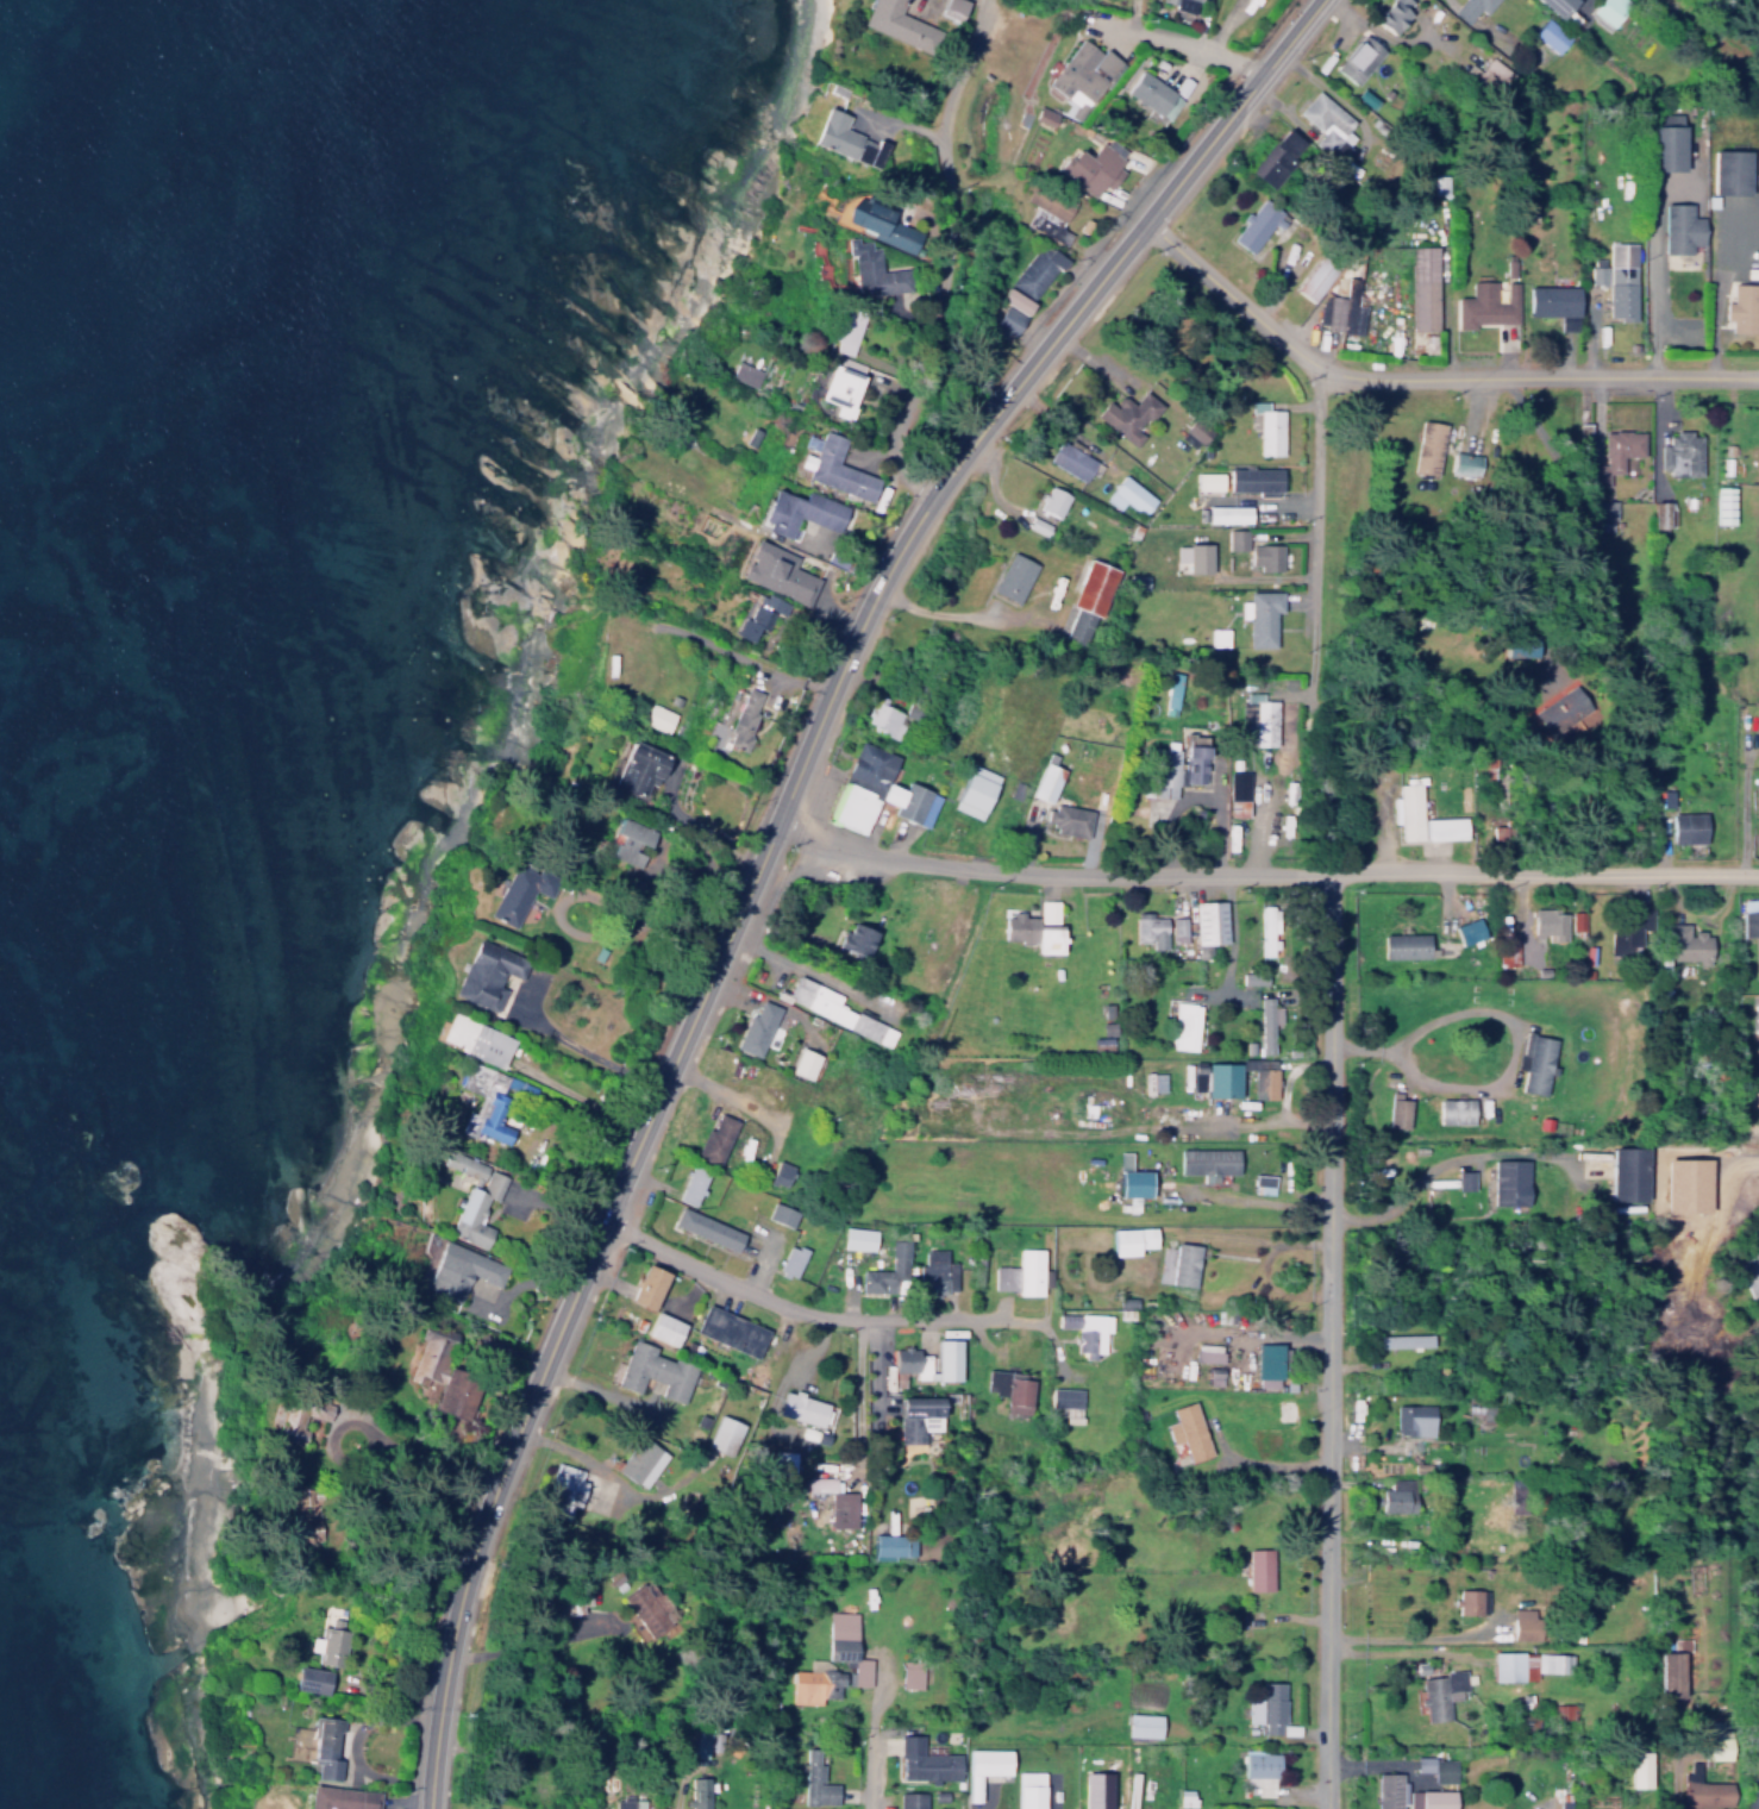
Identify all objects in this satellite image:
building: (1179, 4)
building: (1557, 4)
building: (1469, 5)
building: (952, 7)
building: (1391, 11)
building: (1608, 12)
building: (899, 25)
building: (1551, 31)
building: (1500, 40)
road: (1182, 43)
building: (1358, 52)
building: (1083, 70)
building: (1496, 70)
building: (1152, 94)
road: (1228, 111)
building: (1044, 115)
building: (1328, 121)
building: (1664, 137)
building: (840, 138)
building: (1275, 155)
building: (1095, 167)
building: (1729, 167)
building: (1257, 223)
building: (1679, 223)
building: (883, 224)
road: (953, 264)
building: (1597, 267)
building: (875, 269)
building: (1035, 271)
building: (1315, 274)
building: (1621, 276)
building: (1423, 283)
road: (1653, 286)
road: (1445, 294)
road: (1232, 296)
building: (1554, 299)
building: (1485, 300)
building: (1016, 301)
building: (1344, 301)
building: (1744, 302)
building: (1008, 320)
building: (1683, 332)
road: (1542, 371)
building: (743, 374)
building: (844, 390)
building: (1126, 414)
building: (1266, 427)
building: (1194, 432)
building: (1432, 442)
building: (1682, 445)
building: (1616, 450)
building: (1465, 458)
building: (1072, 462)
building: (838, 468)
building: (1253, 474)
building: (1208, 481)
building: (1127, 495)
building: (1723, 500)
building: (1605, 505)
building: (1226, 508)
building: (1663, 509)
building: (802, 512)
road: (1565, 518)
building: (1605, 521)
road: (1316, 530)
building: (1235, 534)
building: (1265, 551)
building: (1198, 553)
building: (1013, 571)
building: (778, 574)
building: (1088, 594)
building: (1260, 612)
building: (752, 616)
building: (1217, 632)
building: (1526, 651)
building: (1171, 688)
building: (888, 712)
building: (658, 713)
building: (741, 714)
building: (1262, 714)
building: (1195, 759)
building: (636, 762)
building: (1158, 766)
building: (1045, 777)
building: (1238, 783)
building: (974, 787)
building: (876, 788)
building: (1409, 810)
building: (1068, 814)
building: (1686, 822)
building: (1447, 828)
building: (627, 835)
road: (1264, 869)
building: (518, 891)
building: (1047, 910)
building: (1745, 913)
building: (1208, 915)
building: (1177, 921)
building: (1547, 924)
building: (1148, 925)
building: (1266, 925)
building: (1467, 927)
road: (1228, 929)
building: (1032, 933)
building: (855, 934)
building: (1404, 940)
building: (1676, 940)
building: (1506, 947)
building: (1753, 950)
road: (808, 968)
building: (486, 974)
building: (1251, 978)
road: (706, 981)
road: (1263, 989)
building: (834, 1006)
building: (1267, 1019)
building: (756, 1024)
building: (1182, 1026)
building: (1757, 1031)
building: (474, 1039)
building: (1100, 1043)
building: (803, 1059)
building: (1535, 1063)
road: (1506, 1066)
building: (1262, 1071)
building: (1221, 1075)
building: (1153, 1082)
building: (1454, 1112)
building: (1398, 1113)
building: (484, 1116)
building: (714, 1135)
road: (1447, 1154)
building: (1207, 1156)
building: (780, 1168)
building: (1632, 1175)
building: (690, 1178)
building: (1132, 1178)
building: (1262, 1179)
building: (1464, 1181)
building: (1510, 1183)
building: (472, 1197)
road: (1266, 1197)
building: (780, 1213)
building: (712, 1227)
building: (1123, 1237)
building: (858, 1238)
building: (790, 1254)
building: (1184, 1259)
building: (462, 1269)
building: (885, 1270)
building: (1020, 1272)
building: (646, 1282)
road: (806, 1307)
building: (663, 1323)
building: (727, 1326)
building: (1084, 1331)
road: (1329, 1338)
building: (1407, 1340)
building: (1207, 1352)
building: (946, 1356)
building: (428, 1357)
road: (874, 1360)
building: (1266, 1362)
building: (652, 1366)
building: (903, 1366)
building: (1008, 1383)
road: (857, 1388)
building: (457, 1392)
building: (1064, 1392)
building: (800, 1403)
building: (1284, 1406)
building: (916, 1413)
building: (1414, 1419)
building: (1187, 1427)
building: (721, 1429)
building: (1265, 1439)
building: (639, 1458)
building: (781, 1459)
building: (581, 1482)
building: (1398, 1495)
building: (834, 1496)
building: (893, 1545)
building: (1260, 1569)
building: (640, 1601)
building: (1467, 1601)
building: (1526, 1623)
building: (328, 1639)
building: (1553, 1661)
building: (831, 1663)
building: (1508, 1665)
building: (910, 1673)
building: (1676, 1673)
building: (309, 1676)
building: (1441, 1694)
building: (1267, 1707)
building: (1143, 1725)
road: (870, 1736)
building: (324, 1742)
building: (700, 1744)
building: (925, 1761)
building: (1438, 1767)
building: (1641, 1769)
building: (1260, 1771)
building: (813, 1779)
building: (1707, 1789)
building: (1029, 1790)
building: (1096, 1790)
building: (1390, 1790)
building: (695, 1792)
road: (676, 1794)
building: (339, 1796)
building: (1431, 1798)
building: (909, 1799)
building: (626, 1802)

